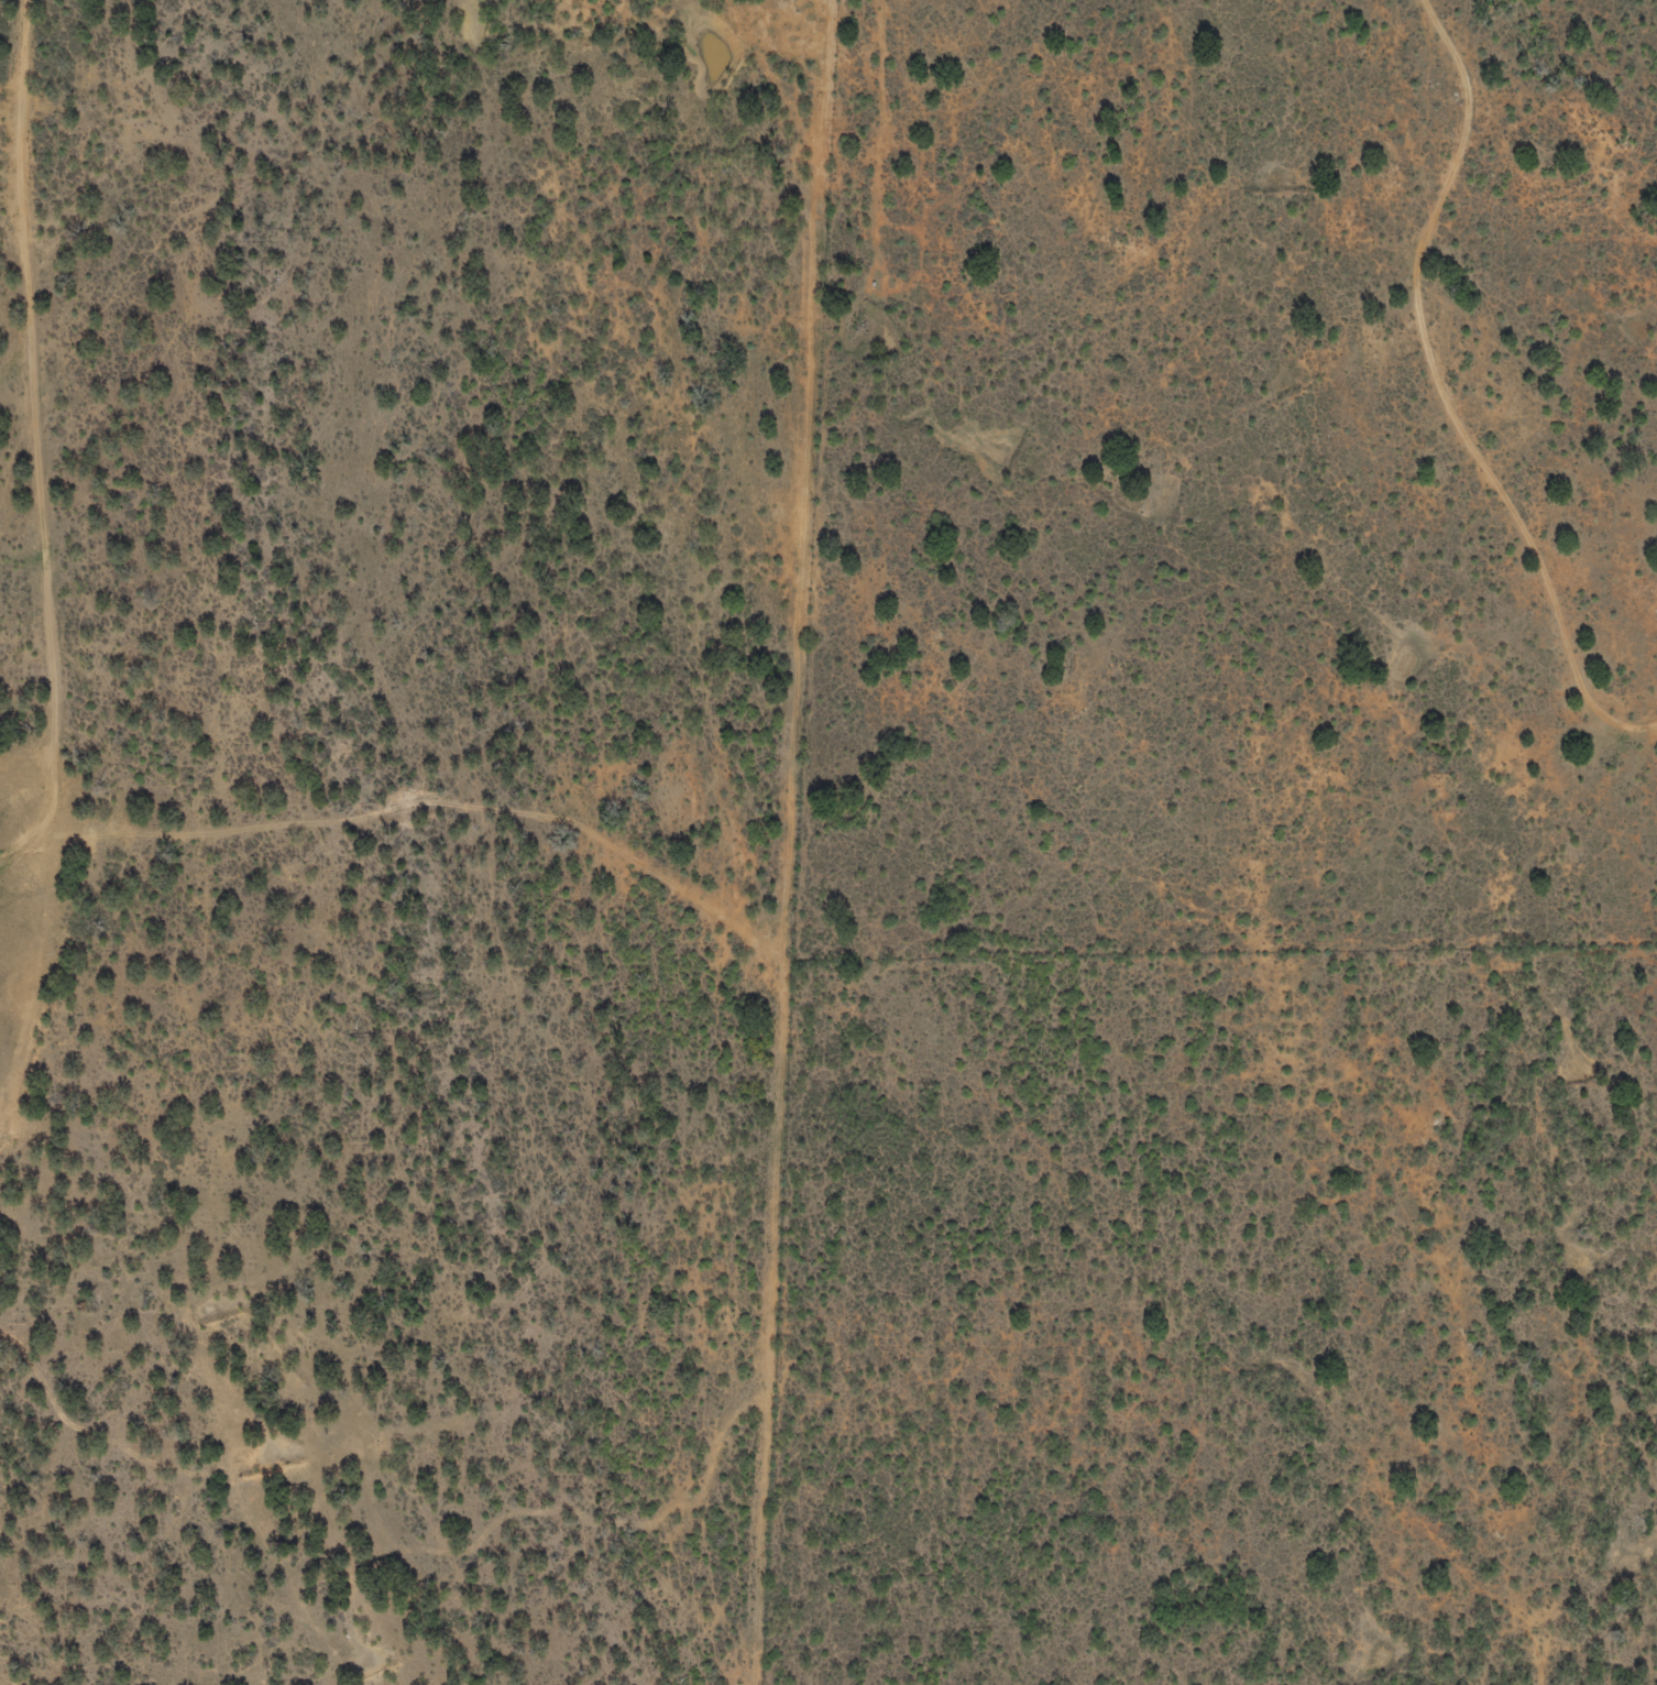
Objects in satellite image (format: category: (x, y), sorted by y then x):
road: (1456, 406)
road: (62, 458)
road: (400, 817)

